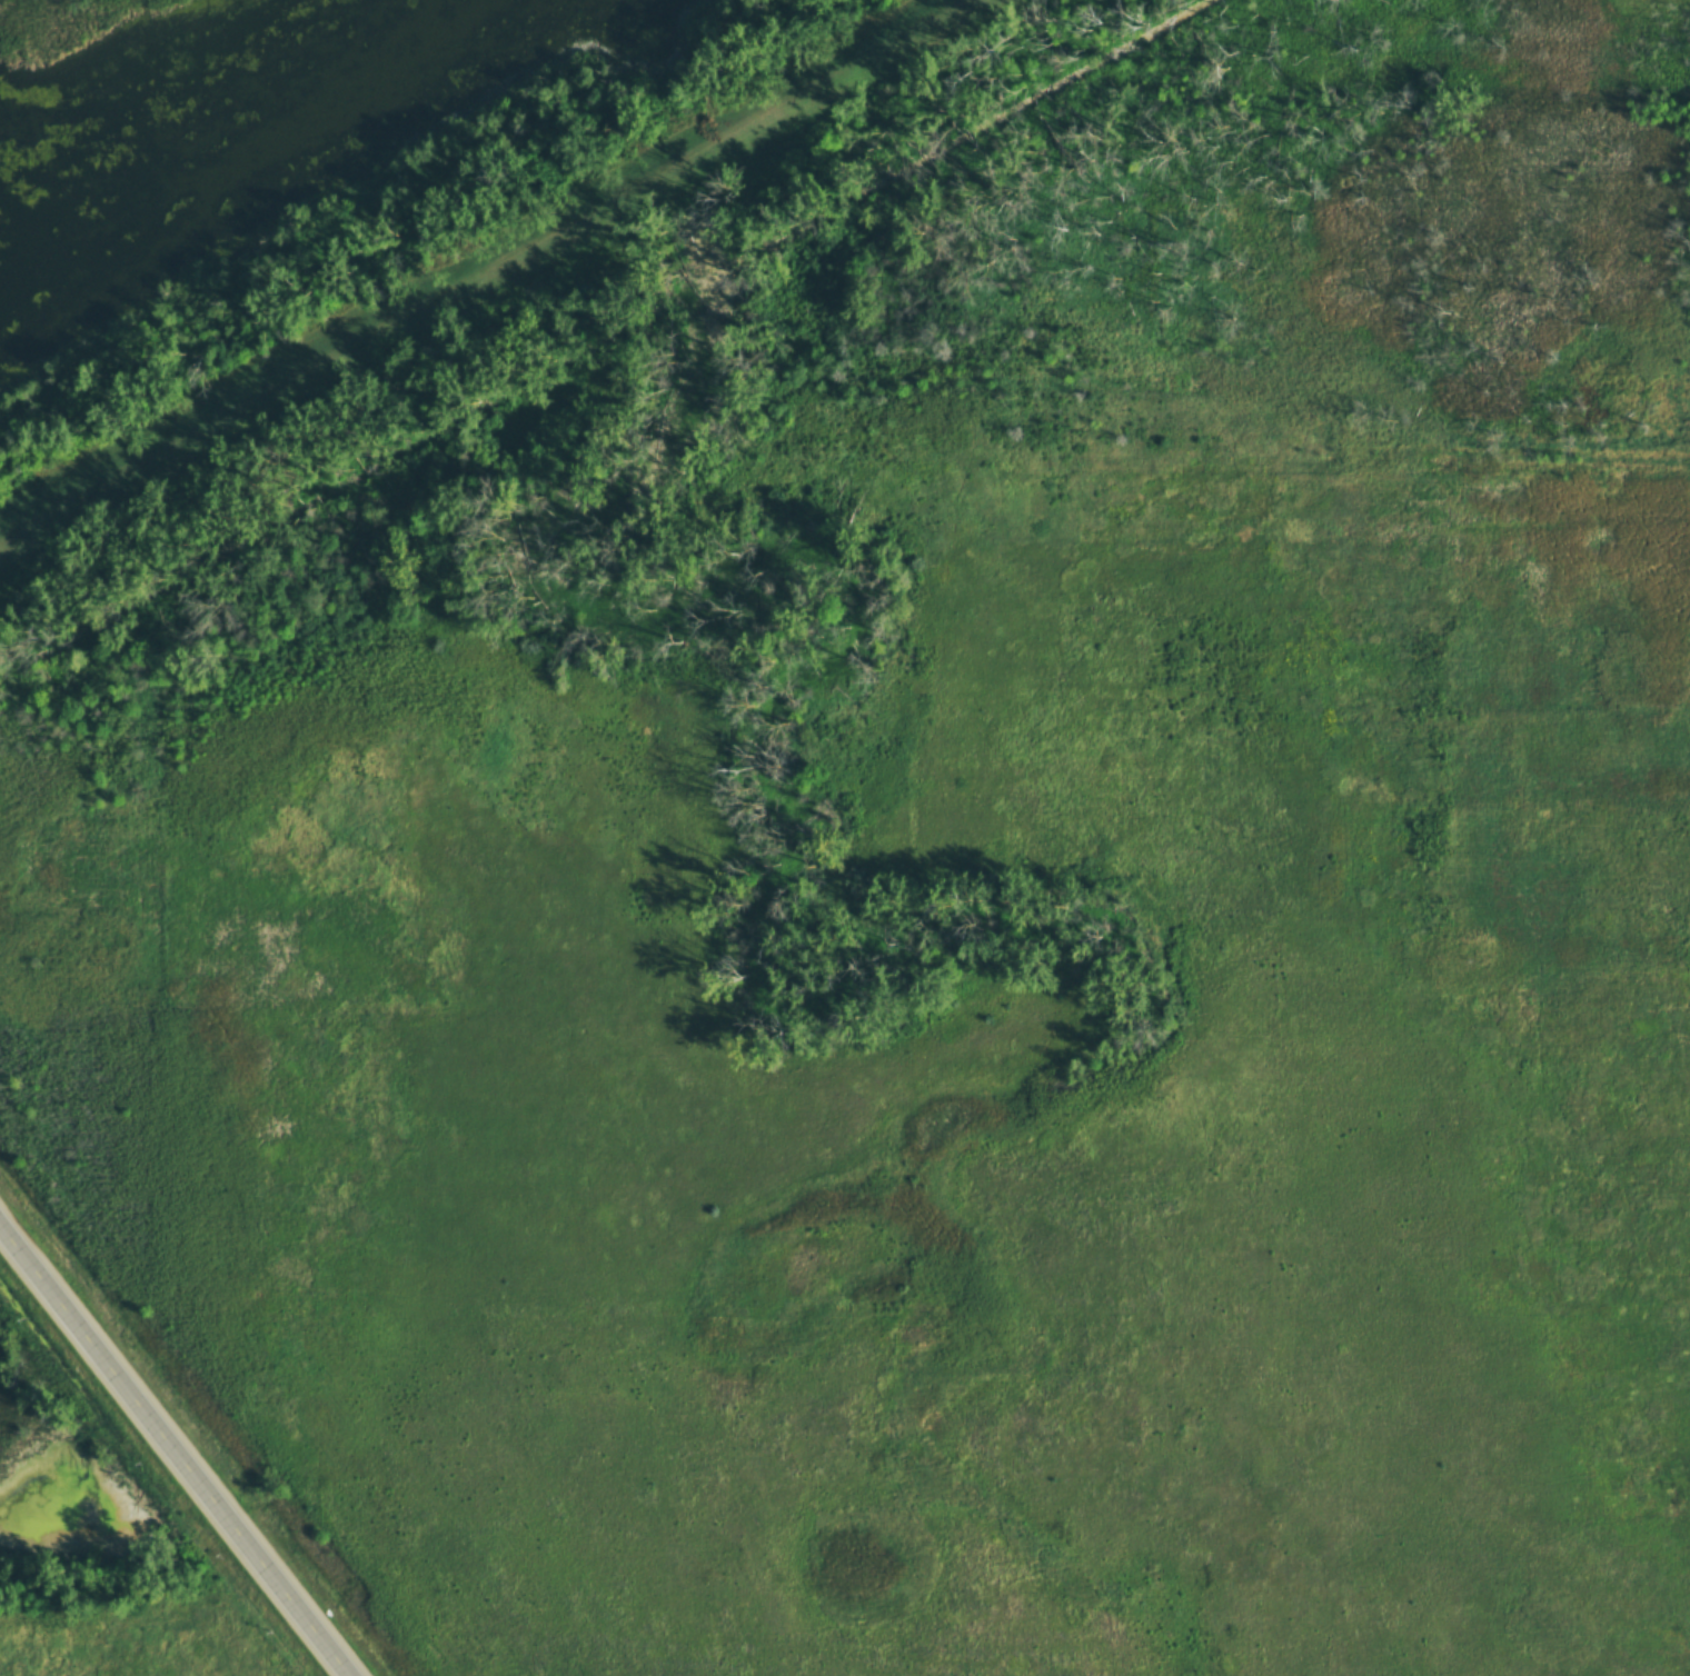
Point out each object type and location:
river: (242, 132)
road: (481, 270)
road: (175, 1449)

